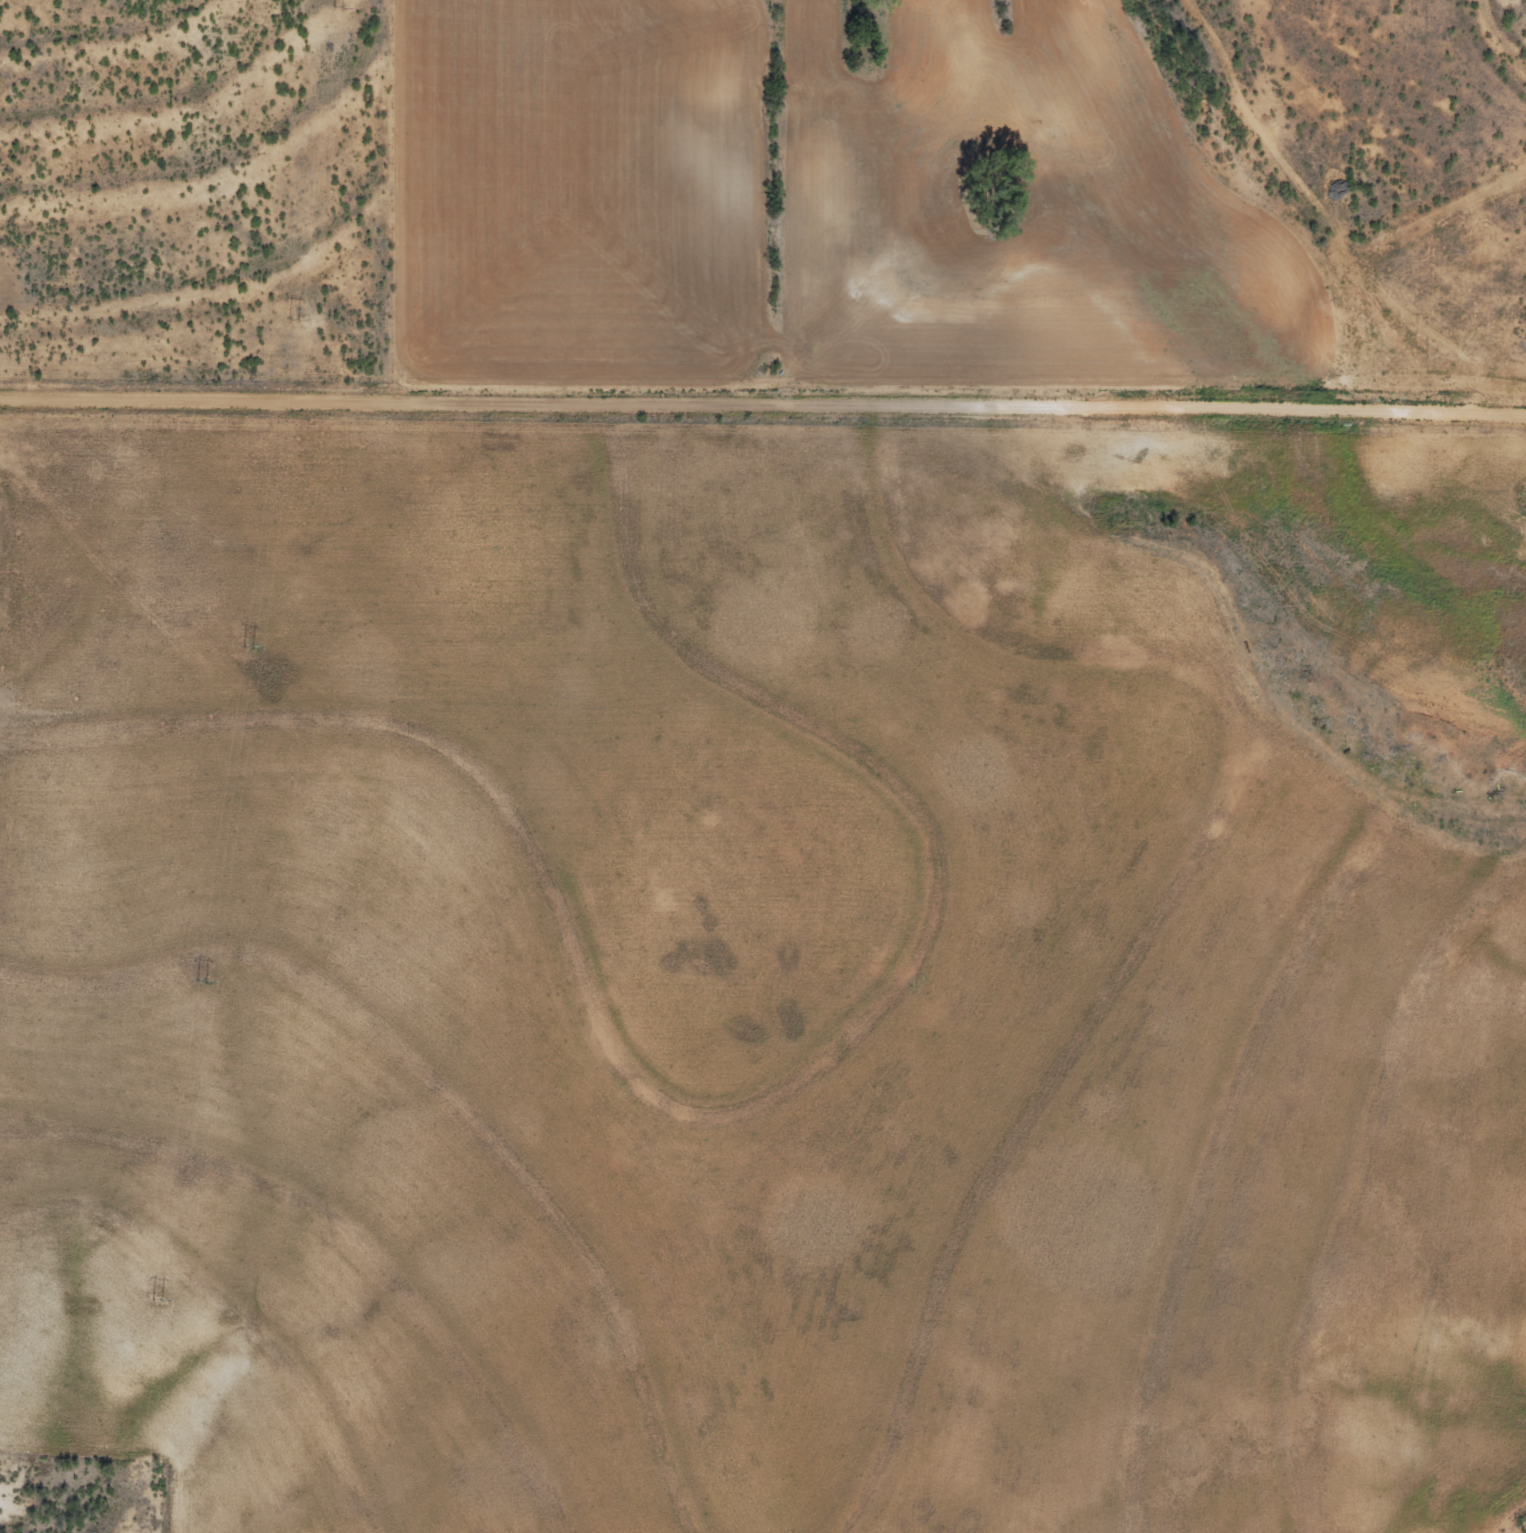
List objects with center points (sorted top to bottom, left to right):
power tower: (338, 8)
road: (882, 245)
power tower: (293, 322)
road: (763, 403)
power tower: (248, 646)
power tower: (201, 980)
power tower: (156, 1303)

